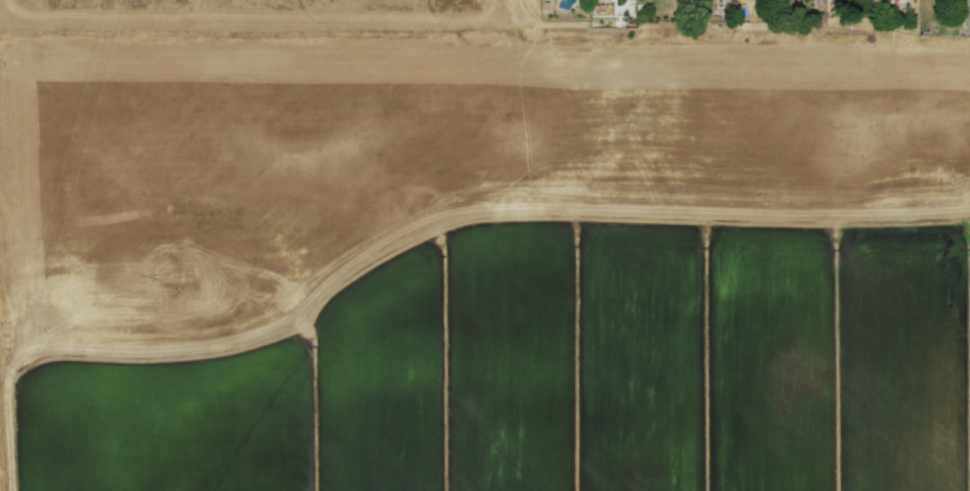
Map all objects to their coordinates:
building: (966, 16)

